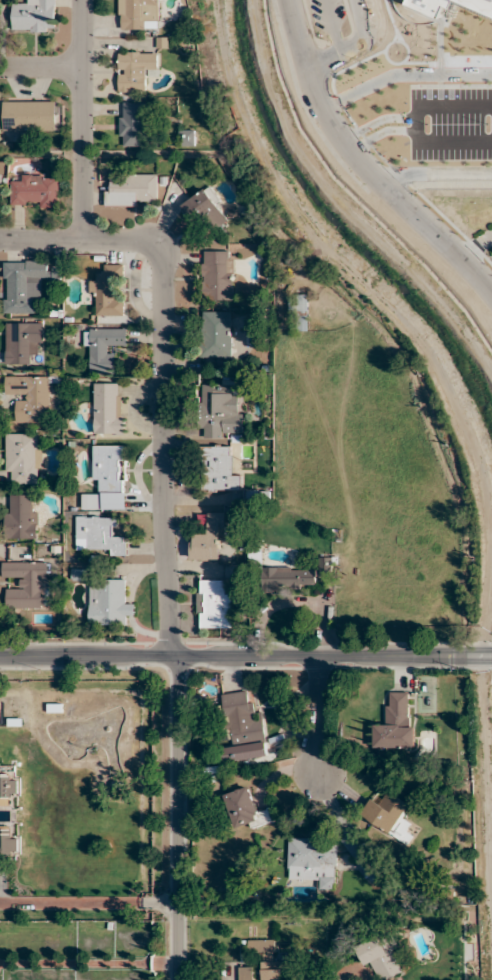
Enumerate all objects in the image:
parking lot: (327, 11)
building: (138, 14)
building: (34, 16)
road: (358, 22)
road: (332, 28)
road: (362, 45)
road: (41, 68)
building: (135, 70)
building: (28, 116)
road: (82, 120)
building: (131, 124)
building: (187, 137)
road: (364, 163)
building: (1, 187)
building: (131, 190)
building: (34, 191)
building: (207, 209)
road: (110, 238)
building: (218, 275)
building: (24, 284)
building: (107, 291)
building: (299, 311)
building: (215, 334)
building: (23, 342)
building: (103, 349)
building: (29, 397)
building: (108, 408)
building: (222, 410)
building: (24, 457)
building: (108, 469)
building: (218, 470)
road: (165, 481)
building: (109, 502)
building: (21, 517)
building: (100, 536)
building: (210, 539)
building: (325, 566)
building: (289, 578)
building: (26, 583)
building: (108, 603)
building: (213, 605)
road: (246, 657)
road: (318, 714)
building: (241, 719)
building: (395, 722)
building: (246, 809)
building: (387, 811)
road: (177, 818)
building: (8, 845)
building: (361, 855)
building: (311, 859)
road: (88, 902)
building: (380, 958)
building: (267, 959)
road: (88, 963)
building: (246, 973)

